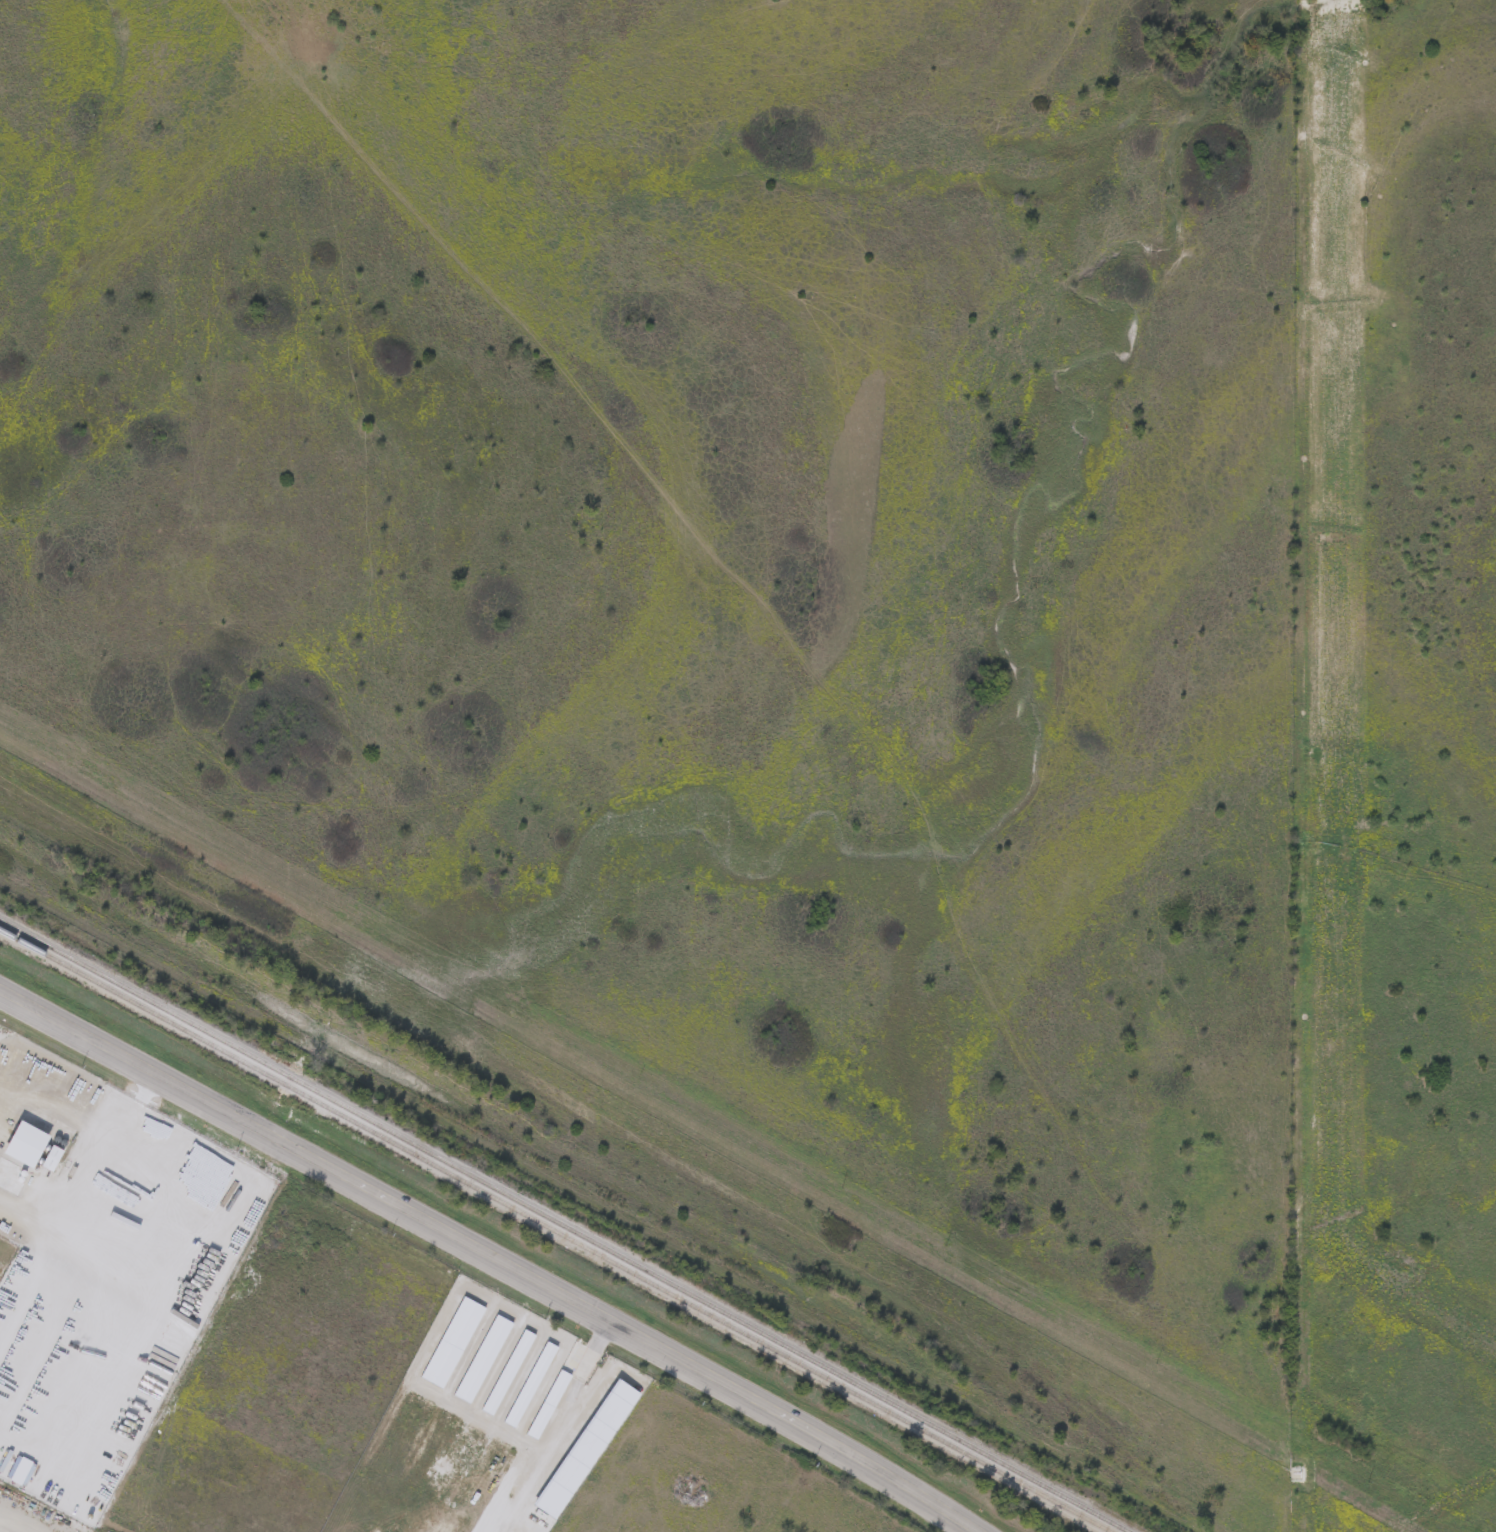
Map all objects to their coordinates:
road: (5, 1208)
railway: (567, 1223)
railway: (556, 1230)
road: (487, 1258)
road: (552, 1427)

